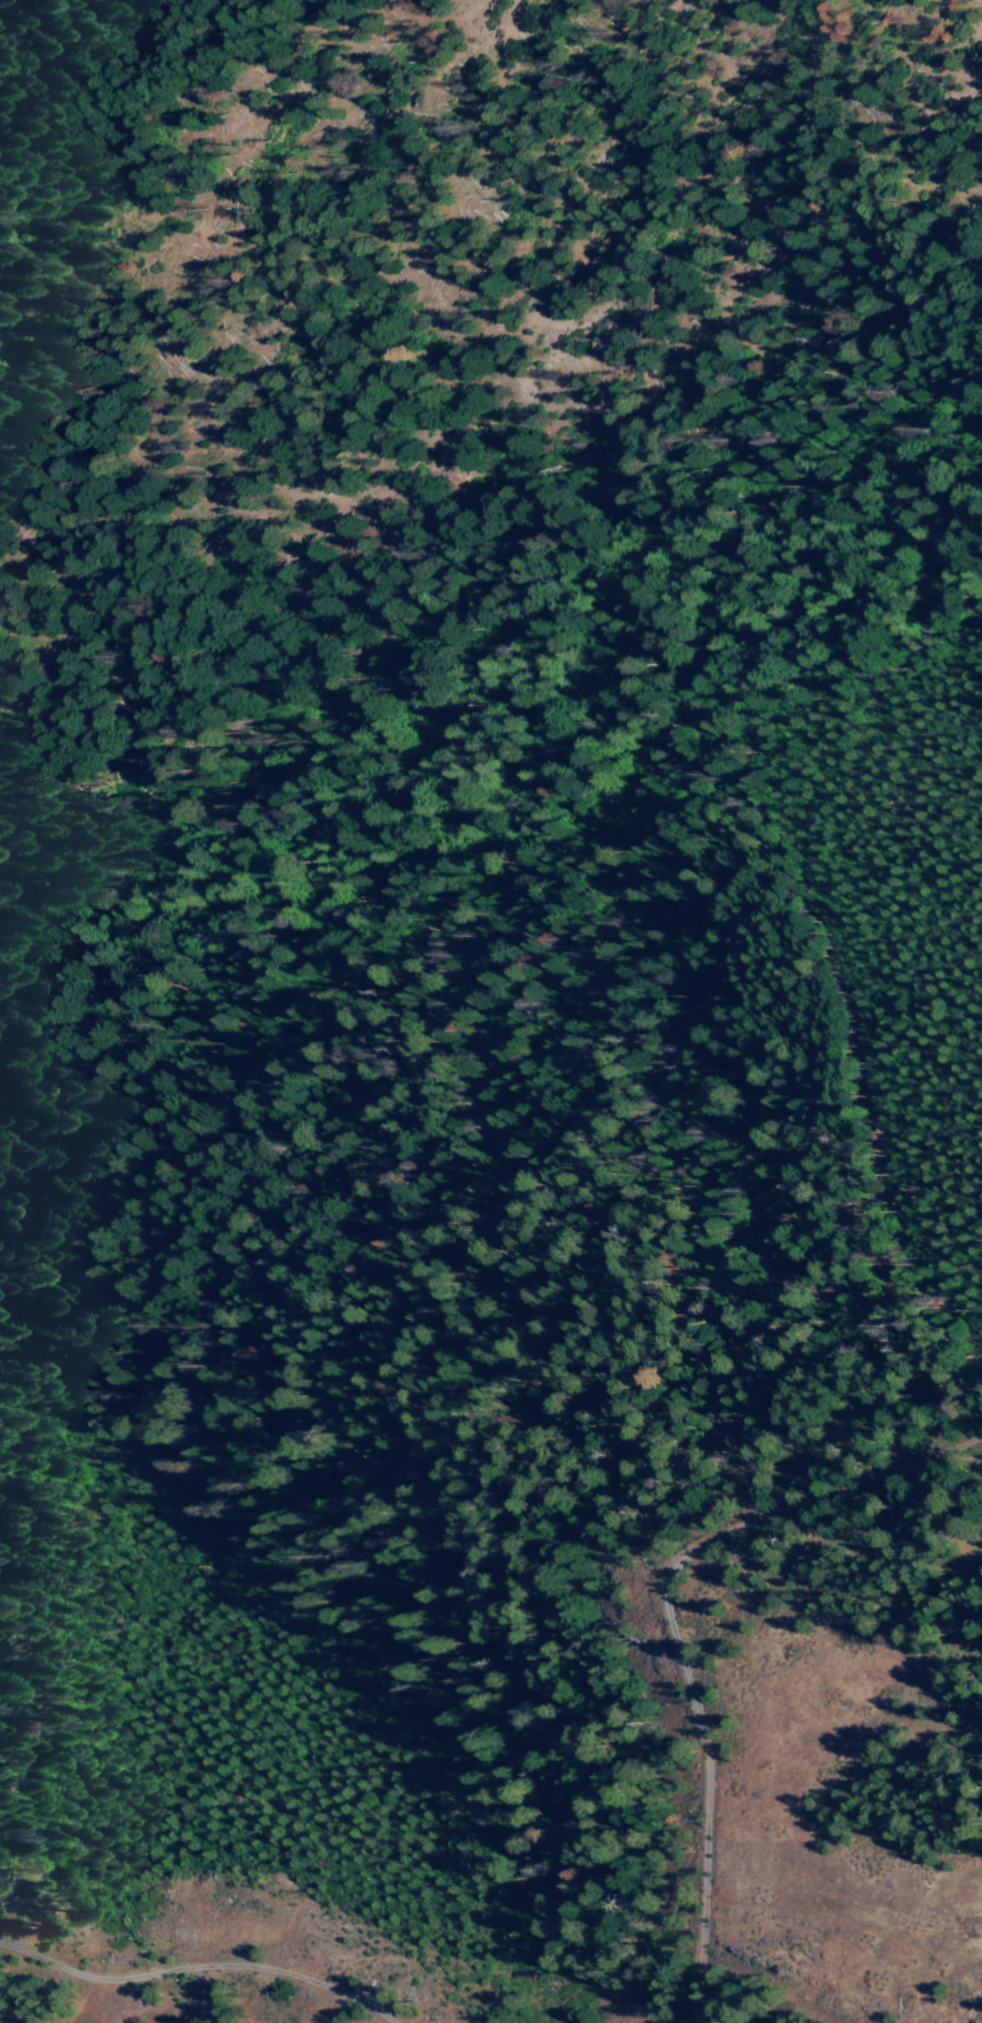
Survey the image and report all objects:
road: (662, 1622)
road: (212, 1964)

